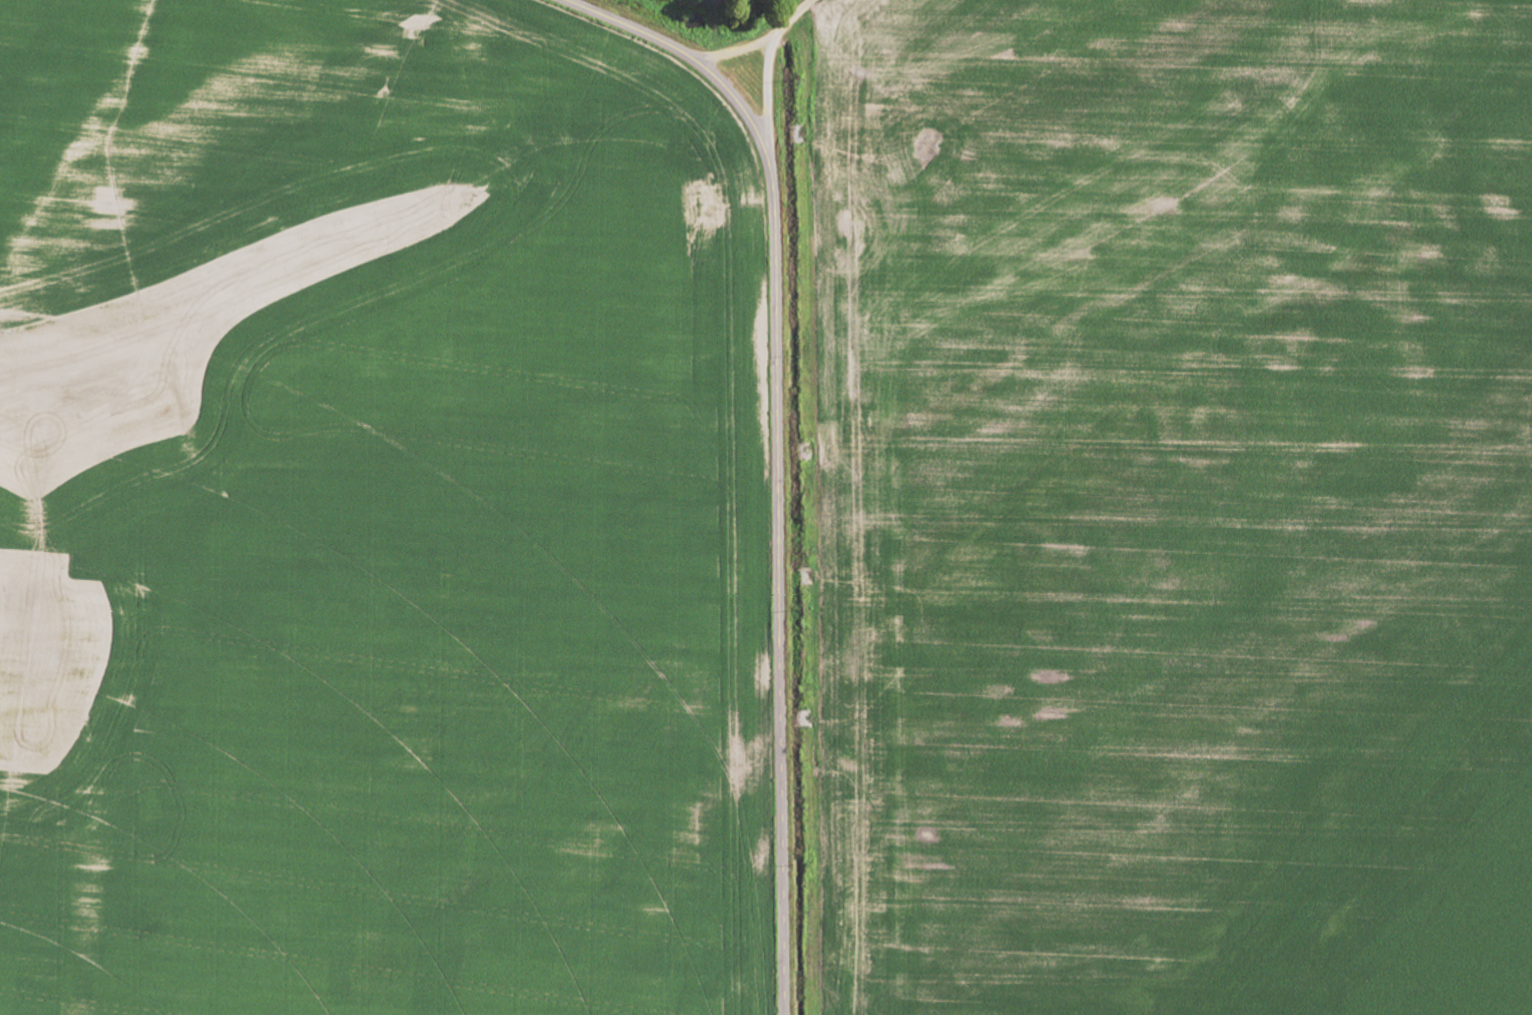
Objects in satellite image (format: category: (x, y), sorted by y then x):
road: (742, 49)
road: (773, 83)
road: (779, 455)

